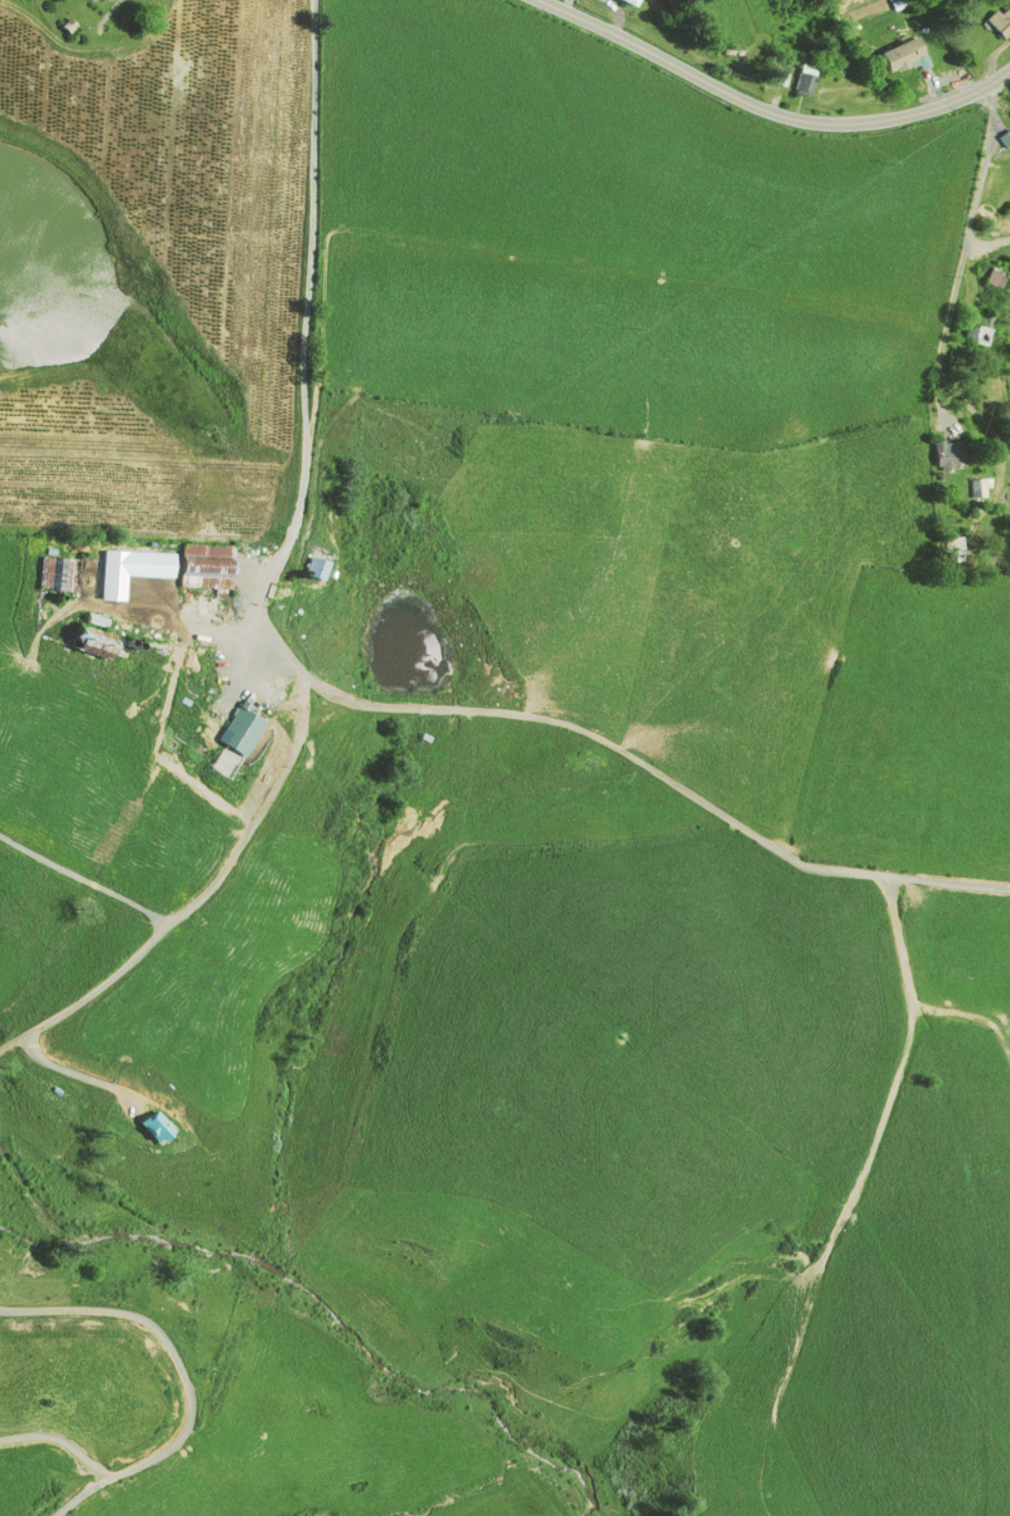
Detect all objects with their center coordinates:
road: (111, 10)
road: (767, 111)
road: (988, 243)
road: (946, 327)
road: (306, 396)
building: (148, 1120)

